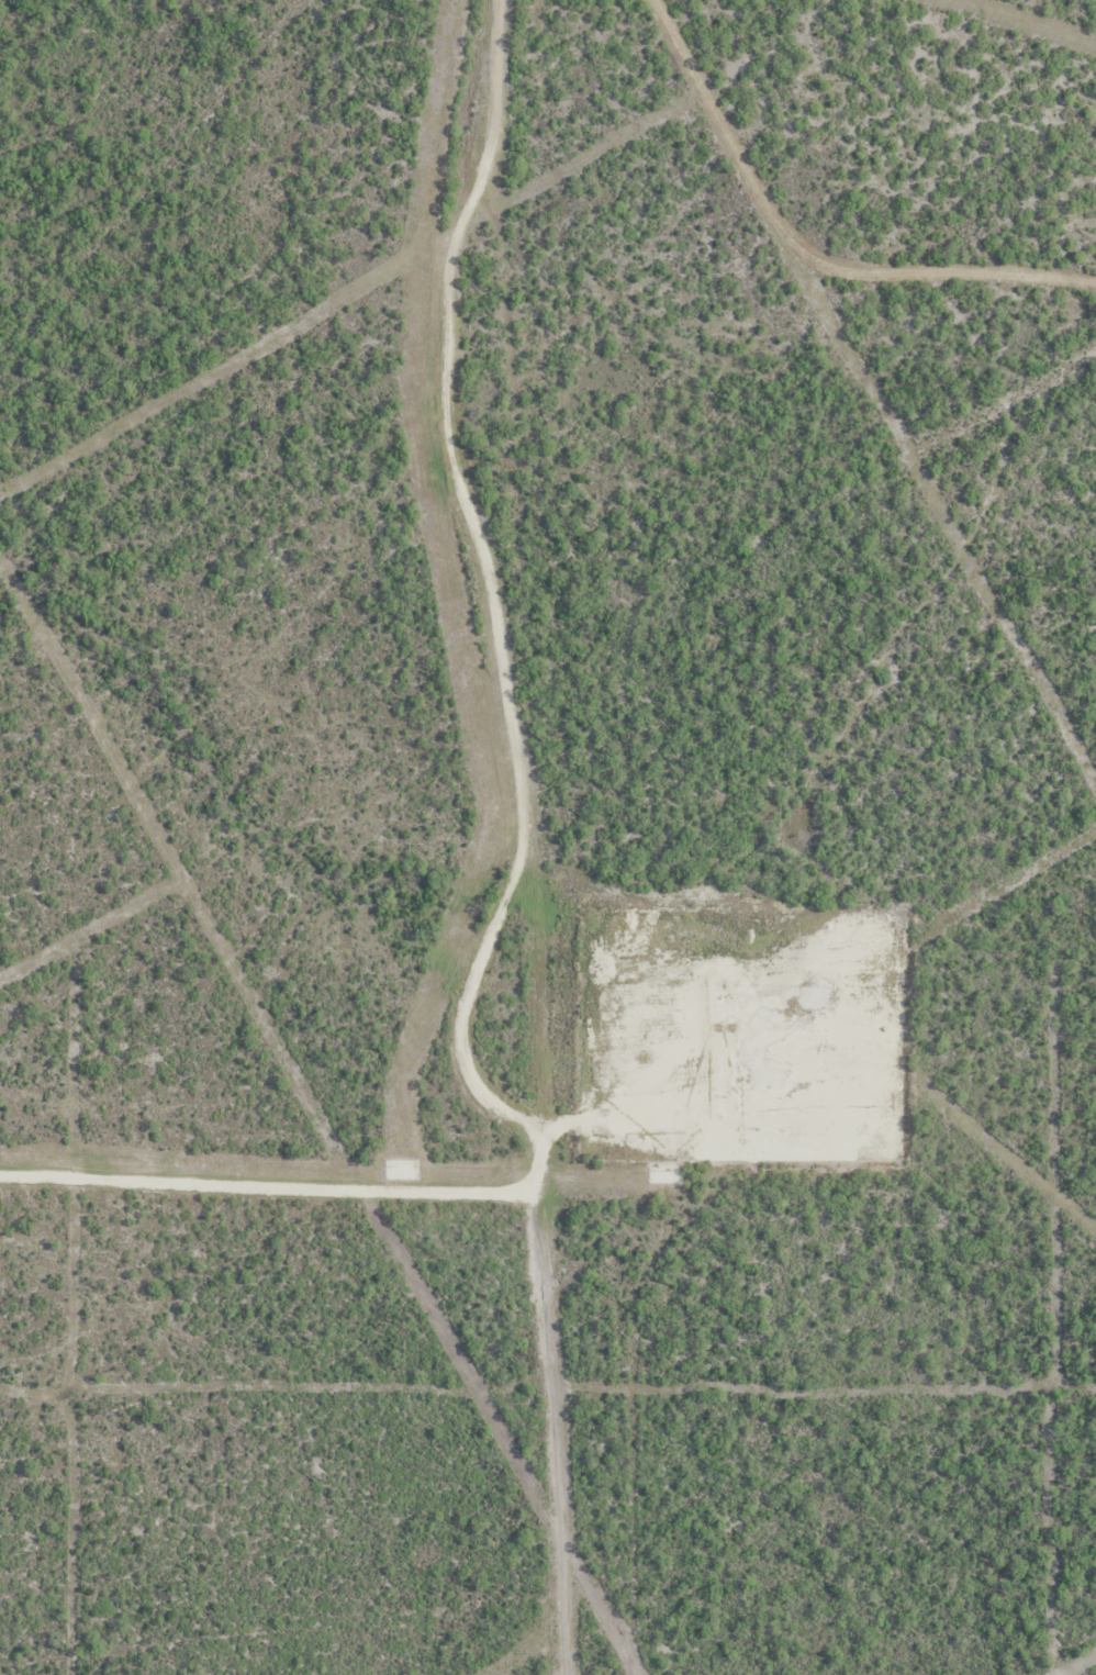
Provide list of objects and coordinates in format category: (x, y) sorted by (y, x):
road: (307, 1199)

